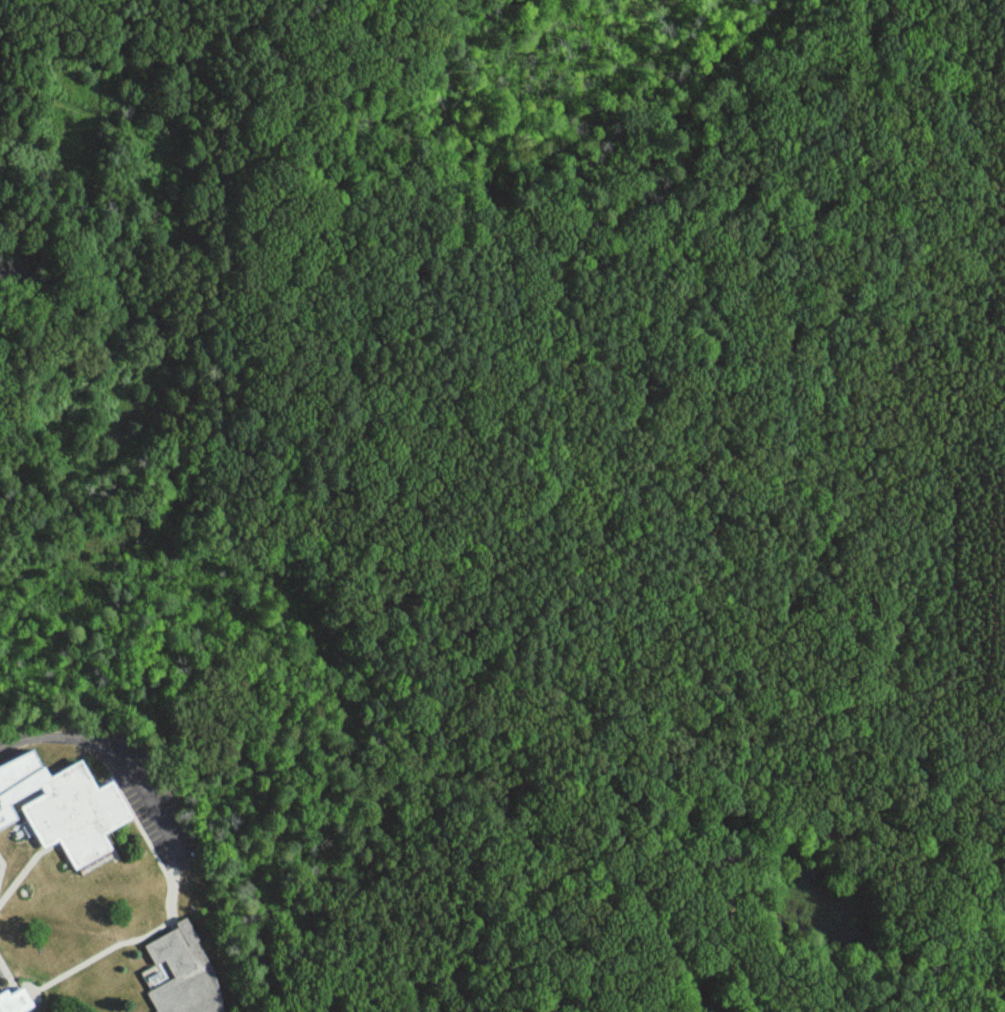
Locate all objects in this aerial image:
road: (171, 206)
road: (113, 441)
building: (15, 783)
building: (68, 815)
road: (149, 845)
road: (1, 860)
road: (24, 866)
road: (92, 954)
building: (181, 974)
road: (14, 986)
building: (13, 1002)

